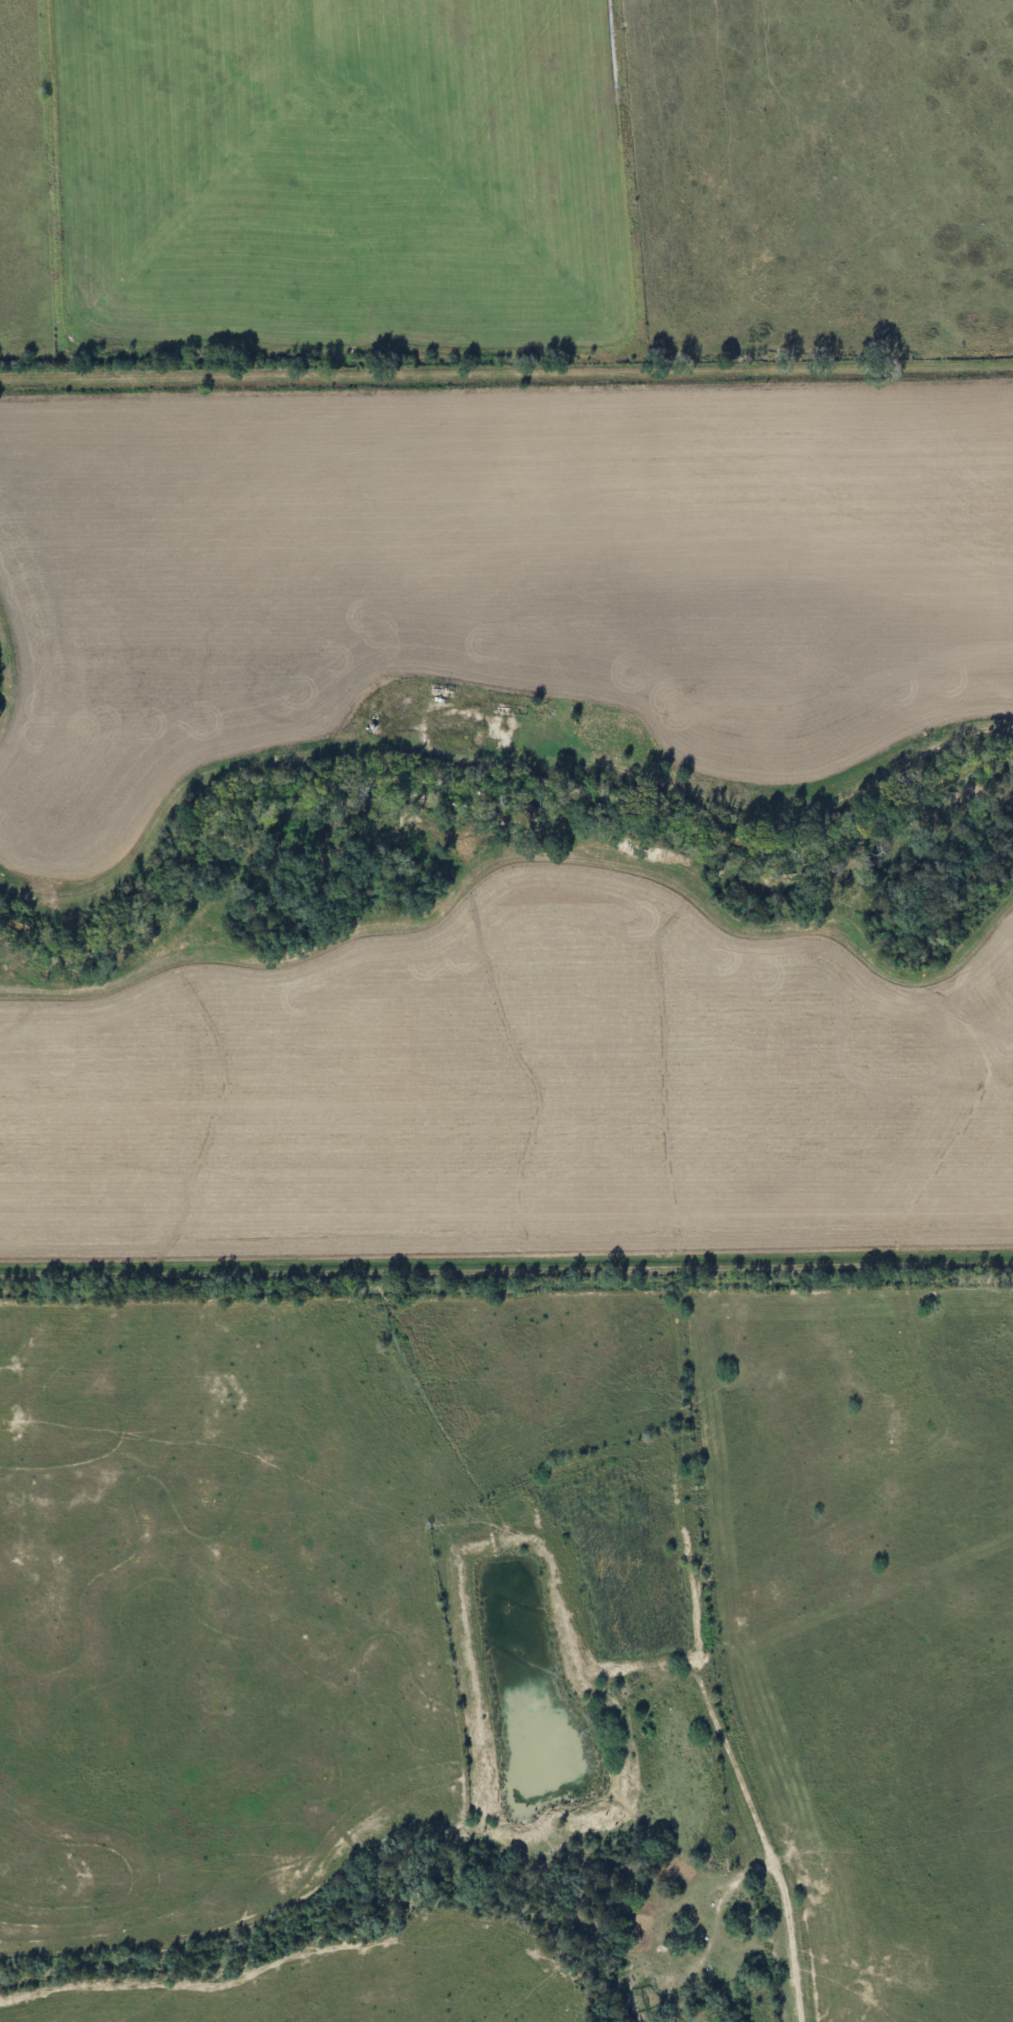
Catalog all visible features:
road: (692, 2003)

